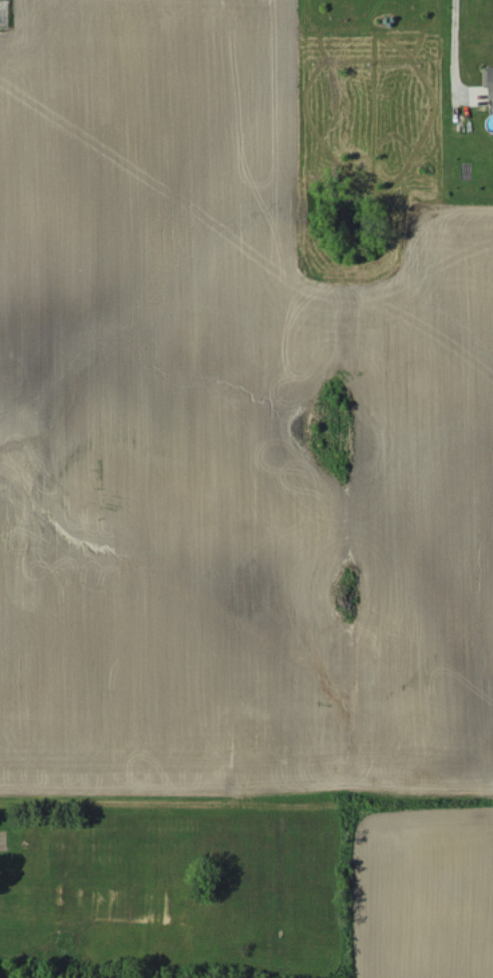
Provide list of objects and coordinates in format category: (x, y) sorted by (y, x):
road: (453, 37)
building: (489, 79)

